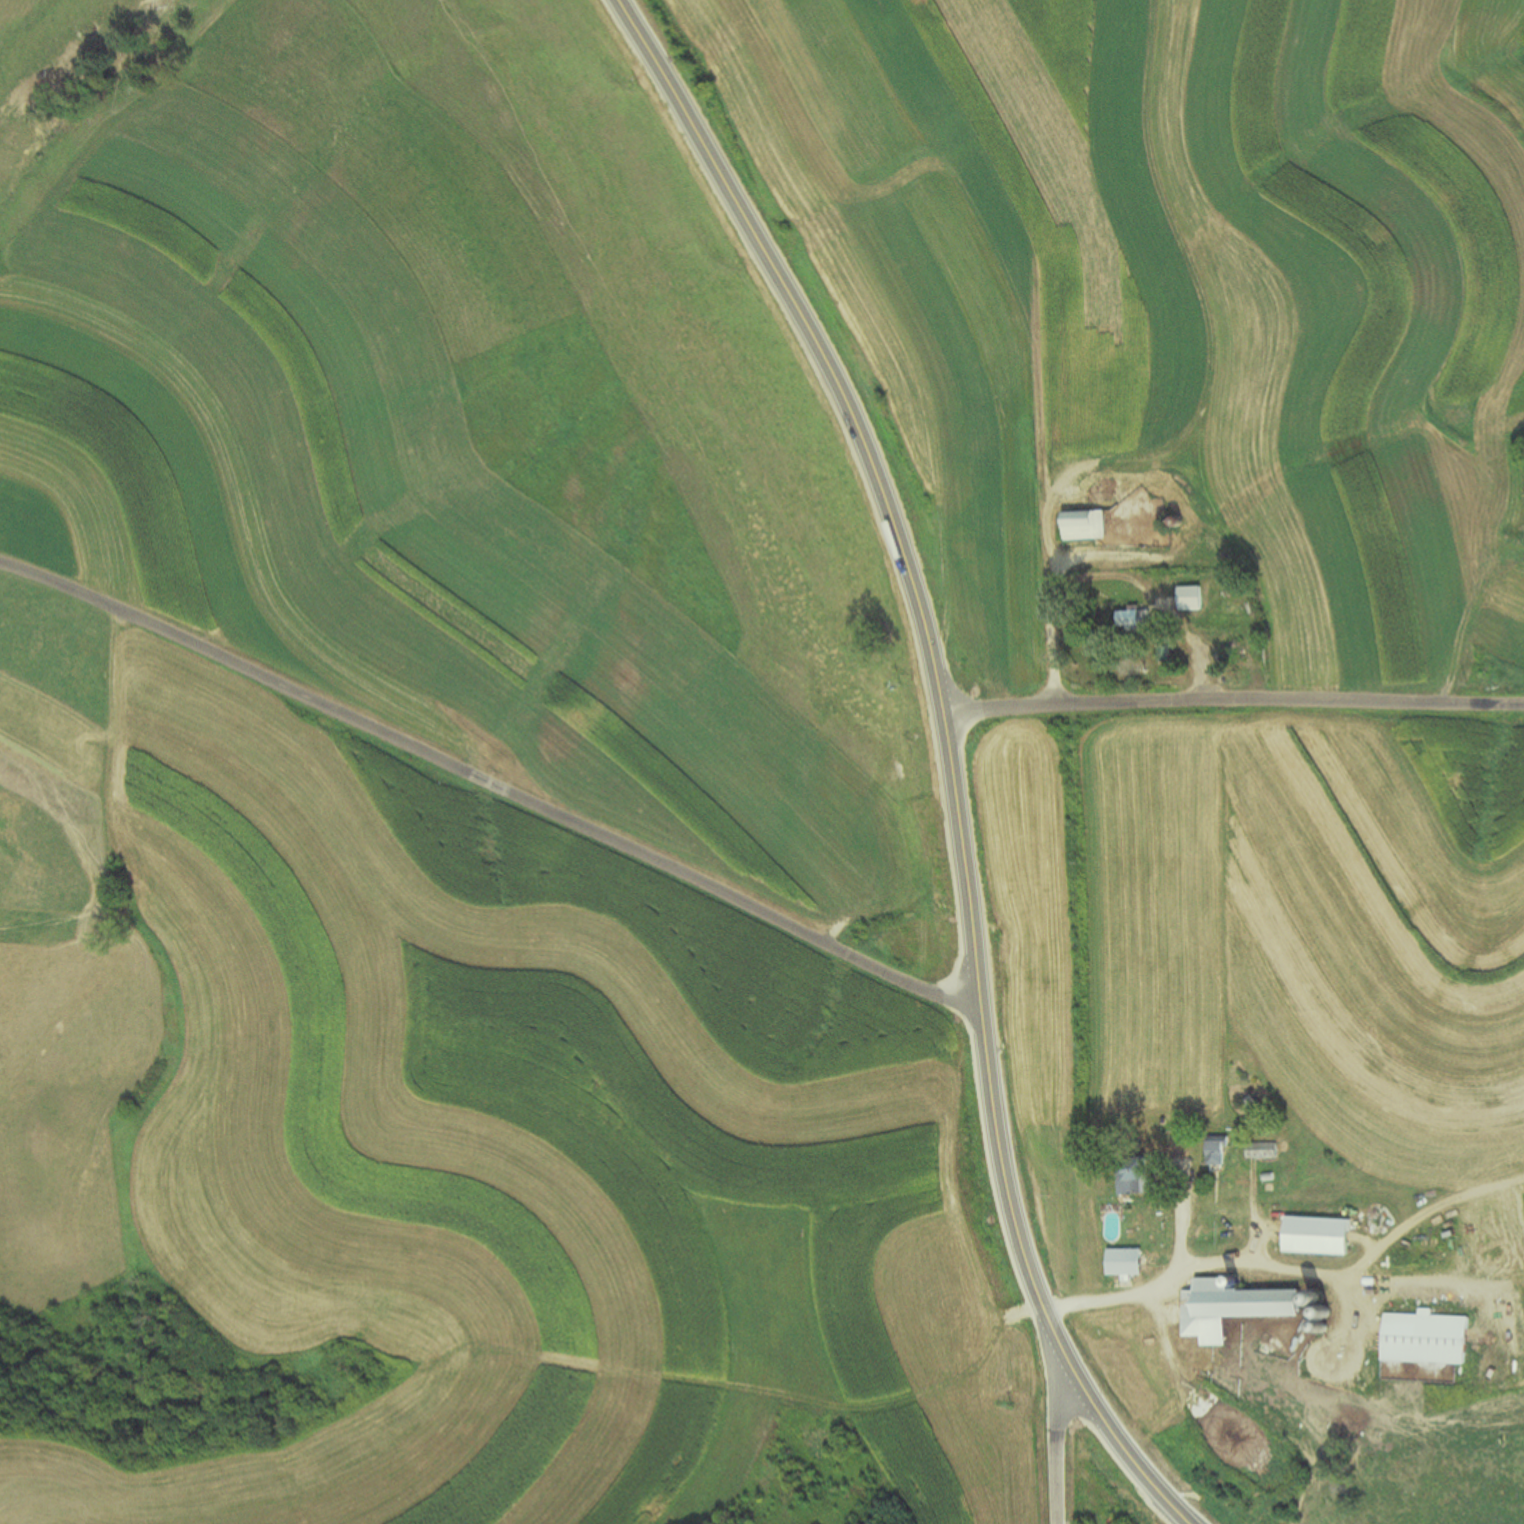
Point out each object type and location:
road: (1098, 571)
road: (1231, 696)
road: (948, 753)
road: (490, 783)
road: (1244, 1267)
road: (1058, 1435)

